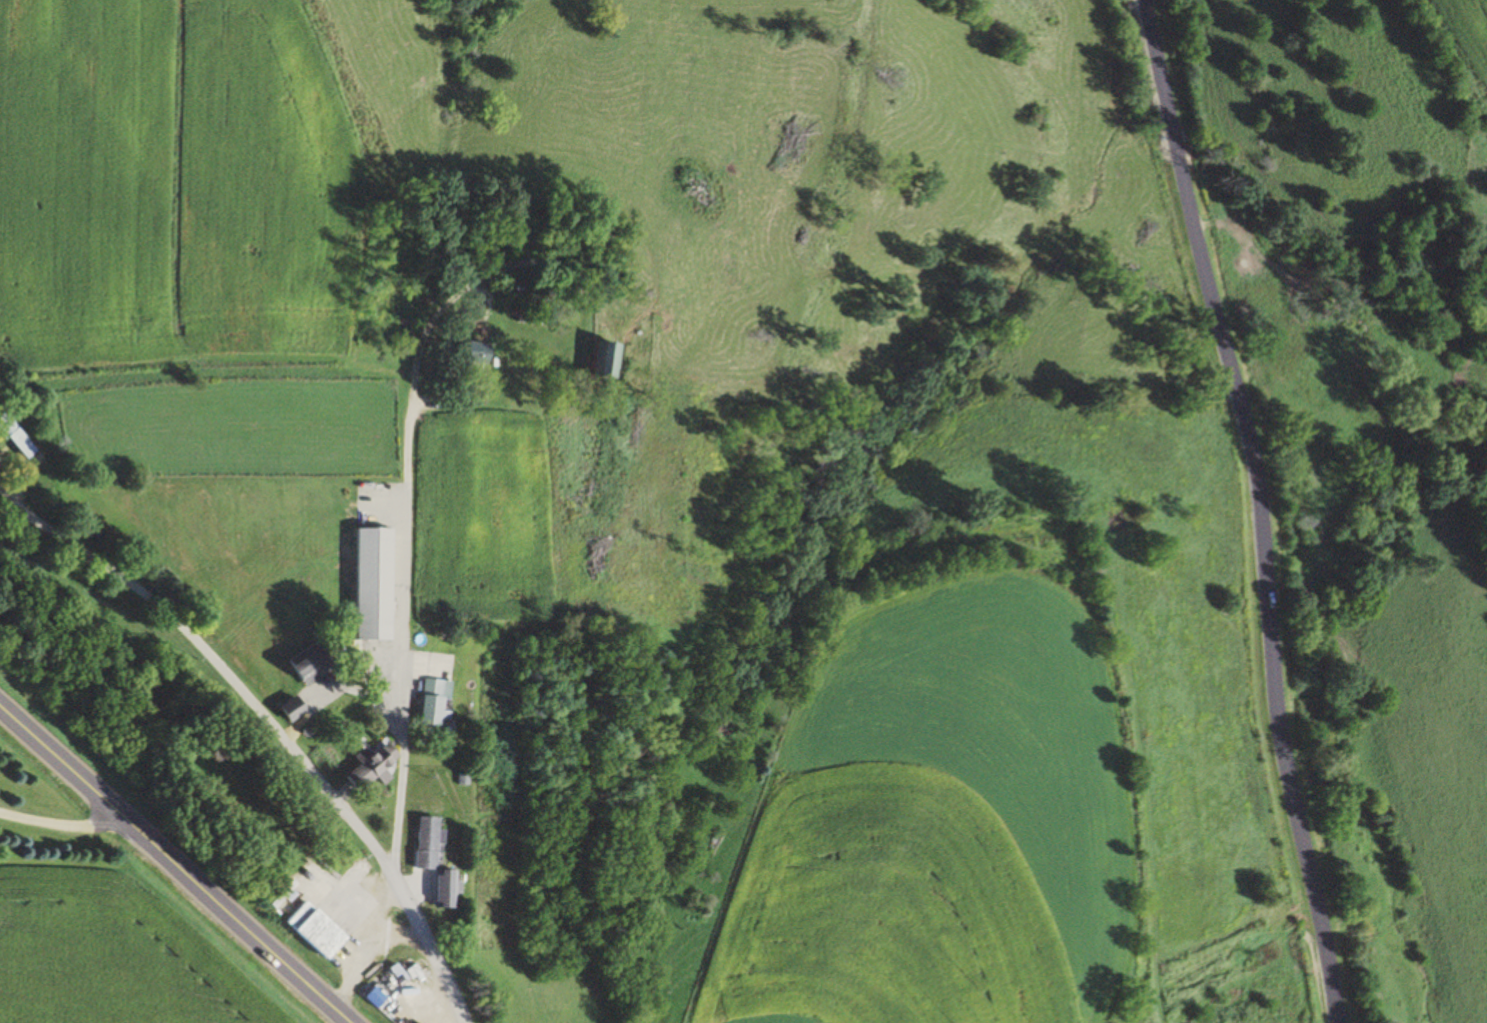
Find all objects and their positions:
building: (533, 317)
building: (619, 362)
building: (18, 435)
road: (1258, 508)
building: (379, 584)
road: (403, 638)
building: (316, 665)
building: (436, 703)
building: (296, 708)
road: (271, 725)
building: (375, 764)
road: (67, 824)
building: (433, 841)
road: (176, 862)
building: (452, 888)
building: (322, 930)

